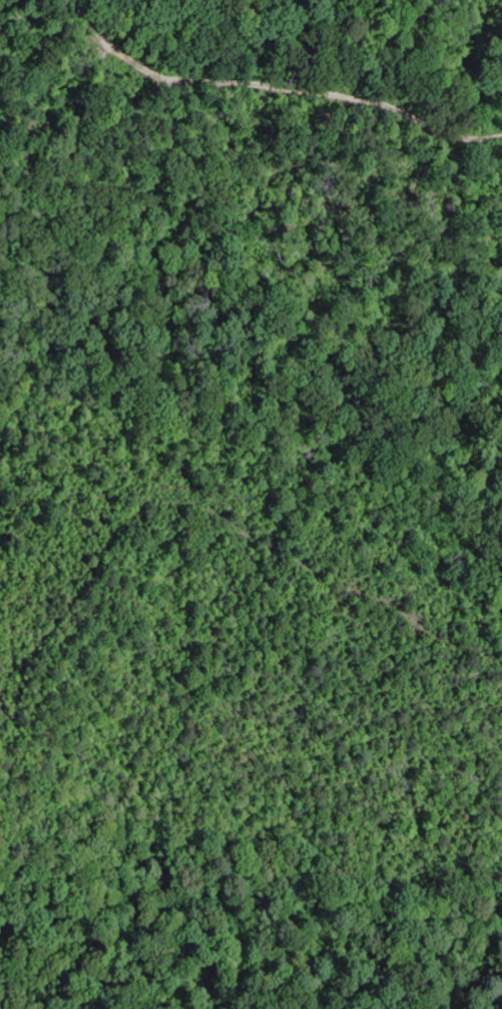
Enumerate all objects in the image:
road: (272, 84)

